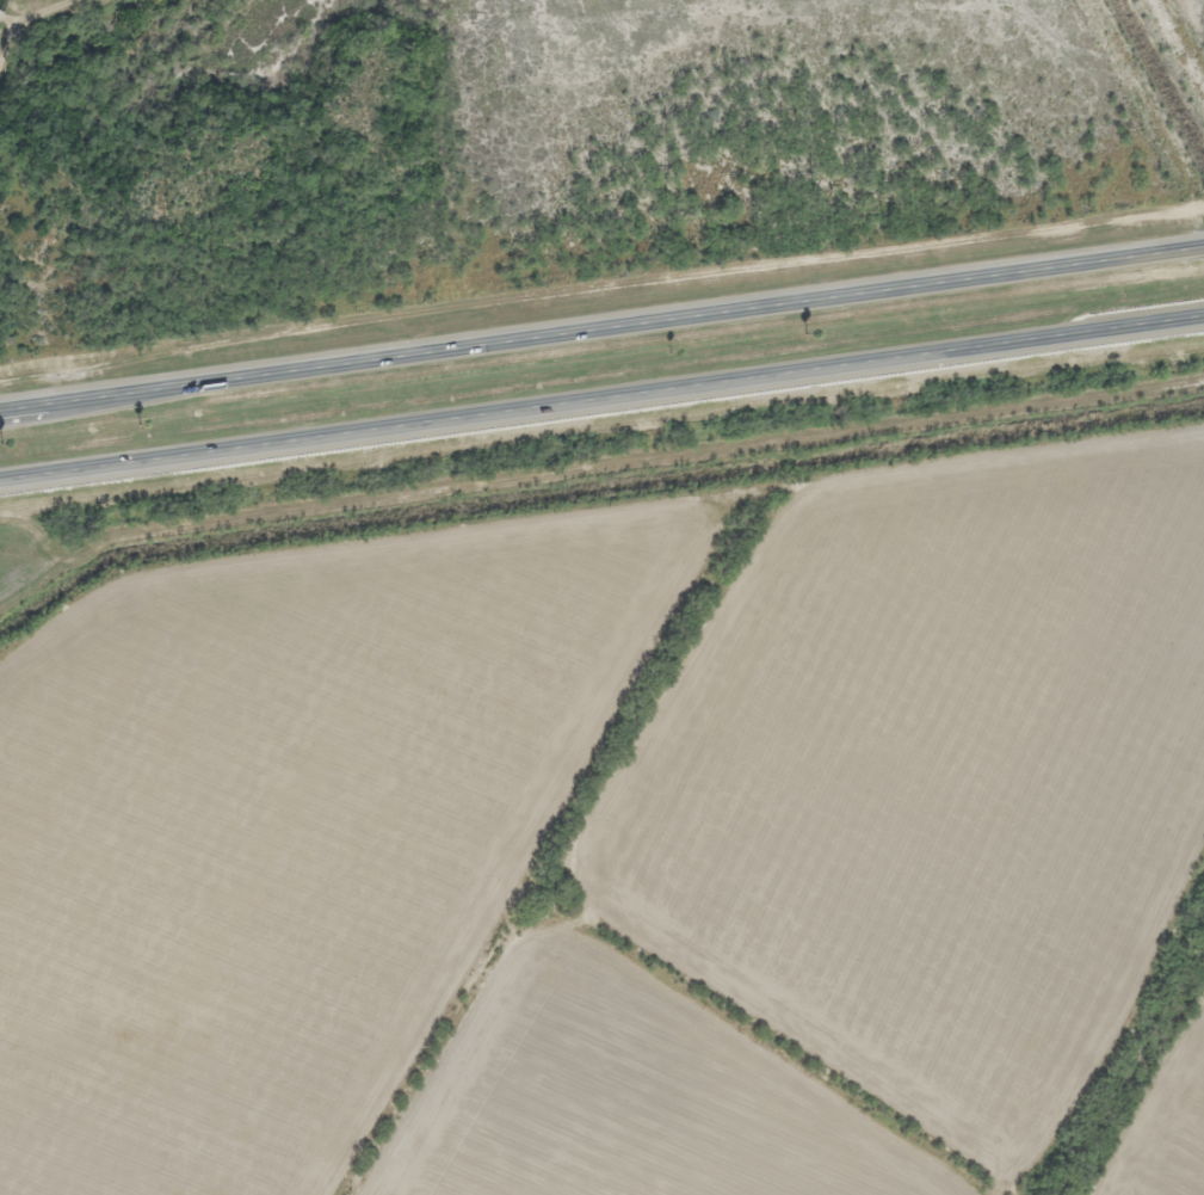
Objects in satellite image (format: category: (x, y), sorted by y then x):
road: (601, 325)
road: (601, 400)

